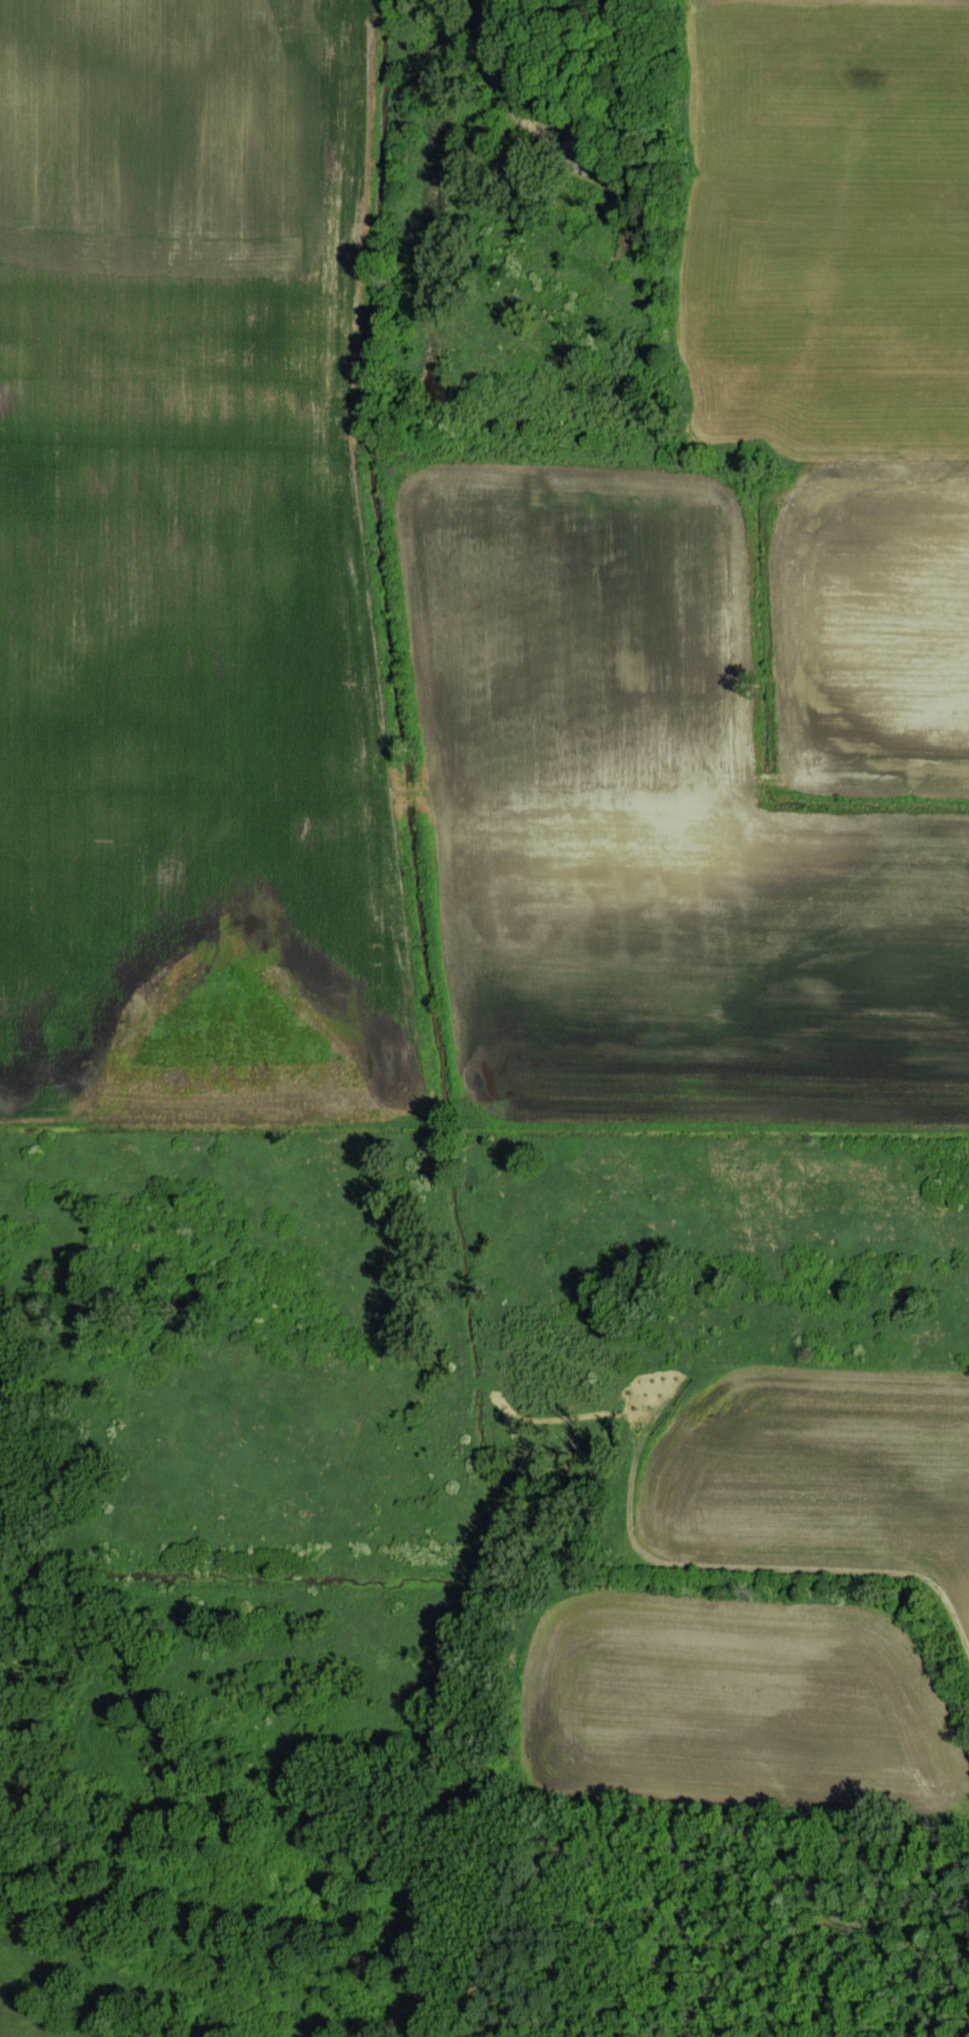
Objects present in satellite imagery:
road: (489, 68)

